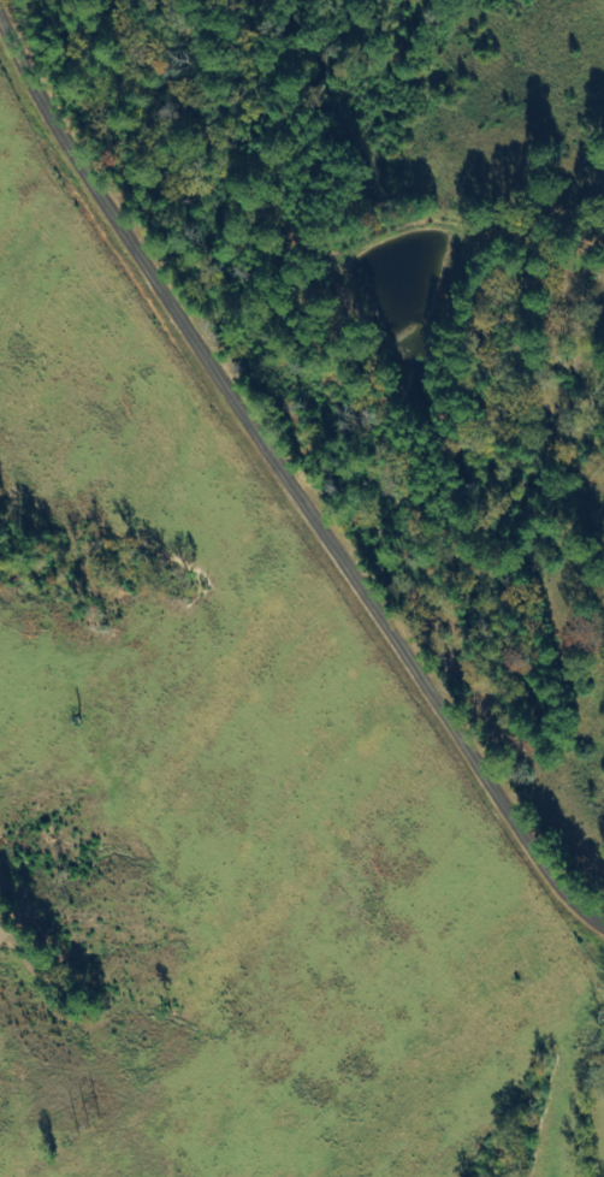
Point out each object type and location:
road: (282, 471)
power tower: (89, 1124)

